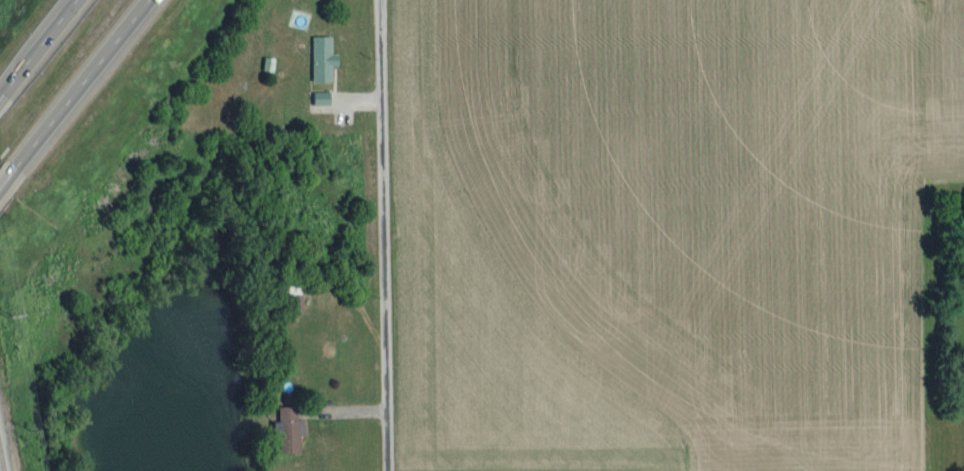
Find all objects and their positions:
road: (36, 47)
building: (321, 59)
road: (79, 84)
building: (320, 100)
road: (6, 175)
road: (385, 235)
building: (288, 437)
railway: (1, 465)

